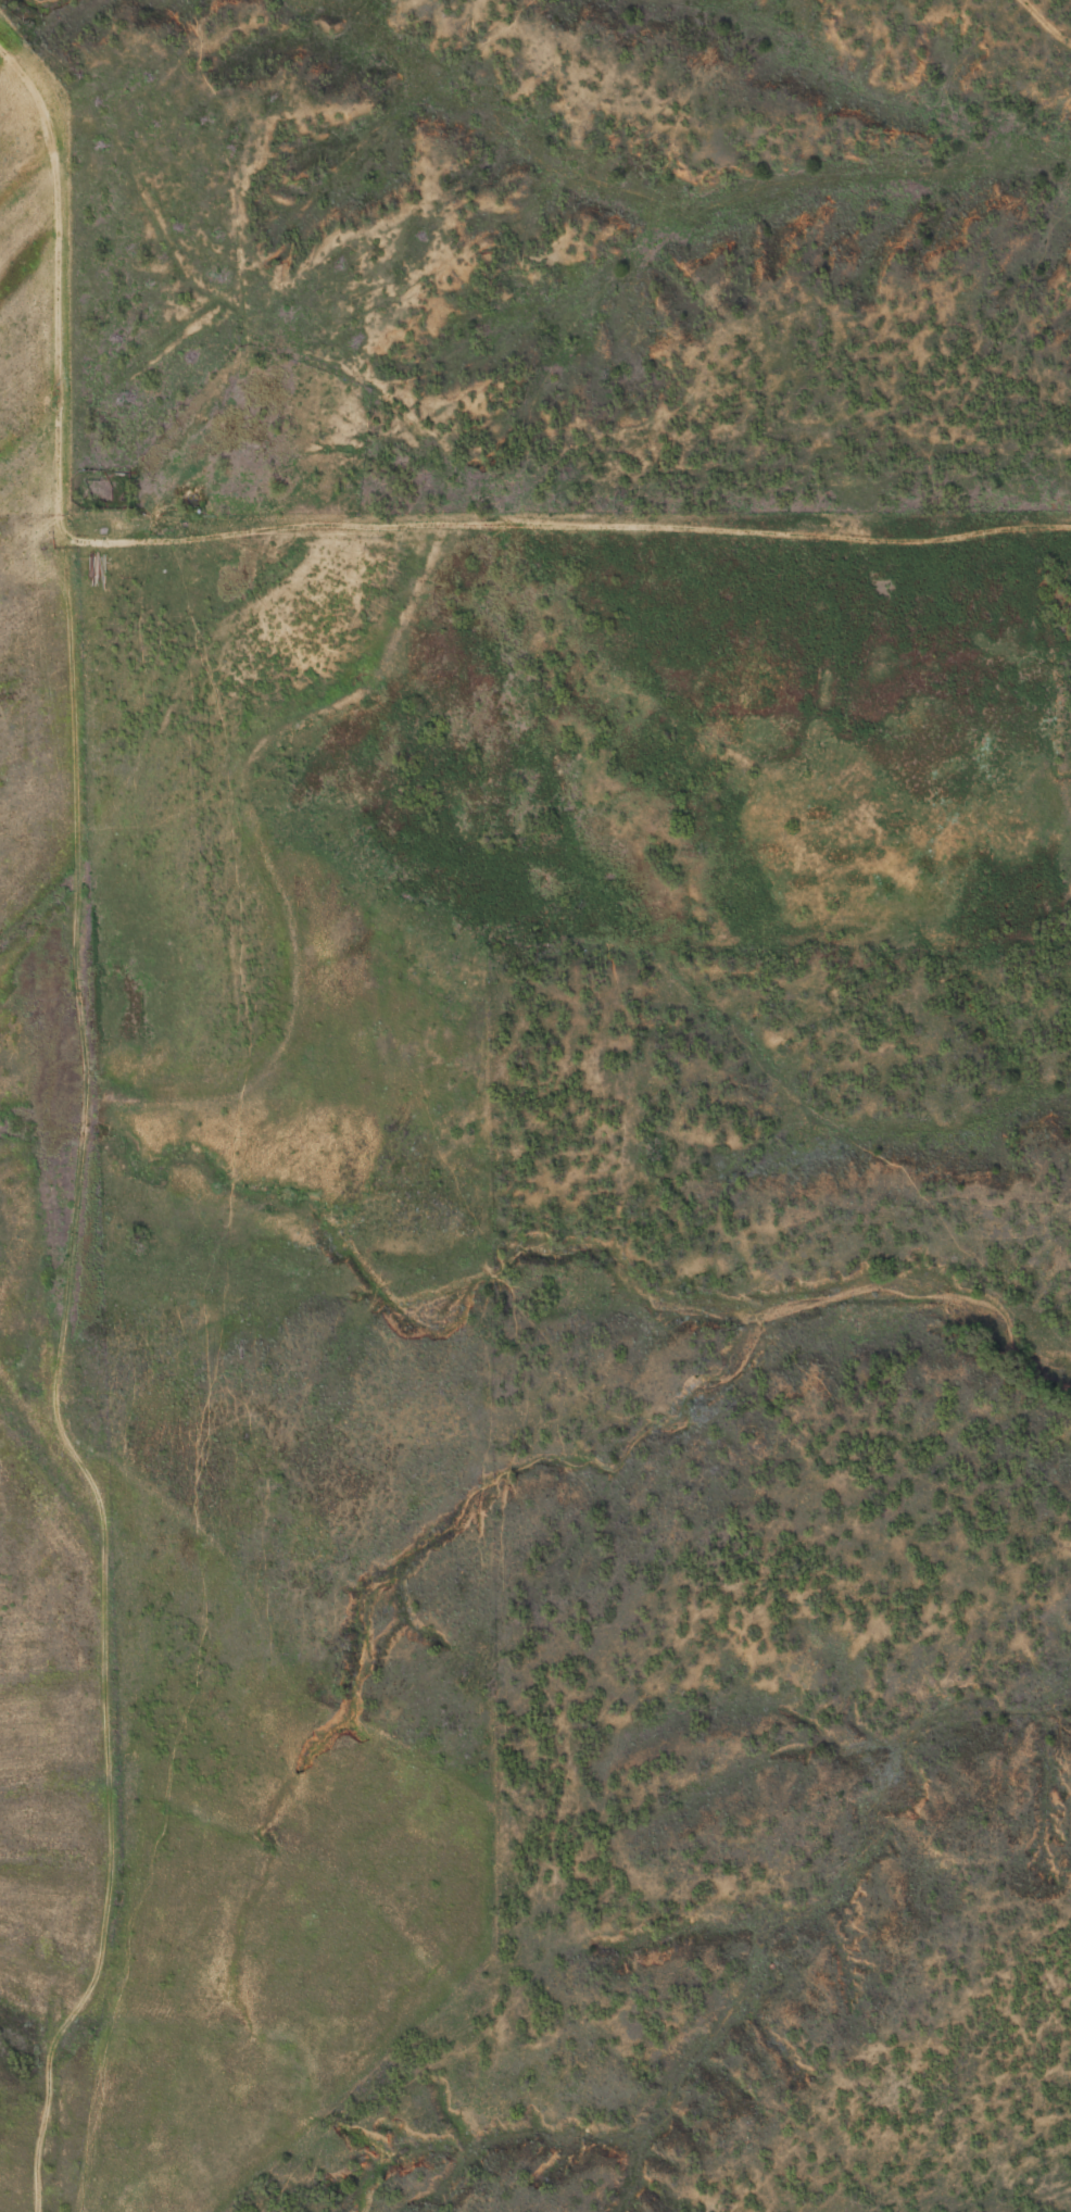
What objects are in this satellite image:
road: (61, 497)
road: (109, 1790)

